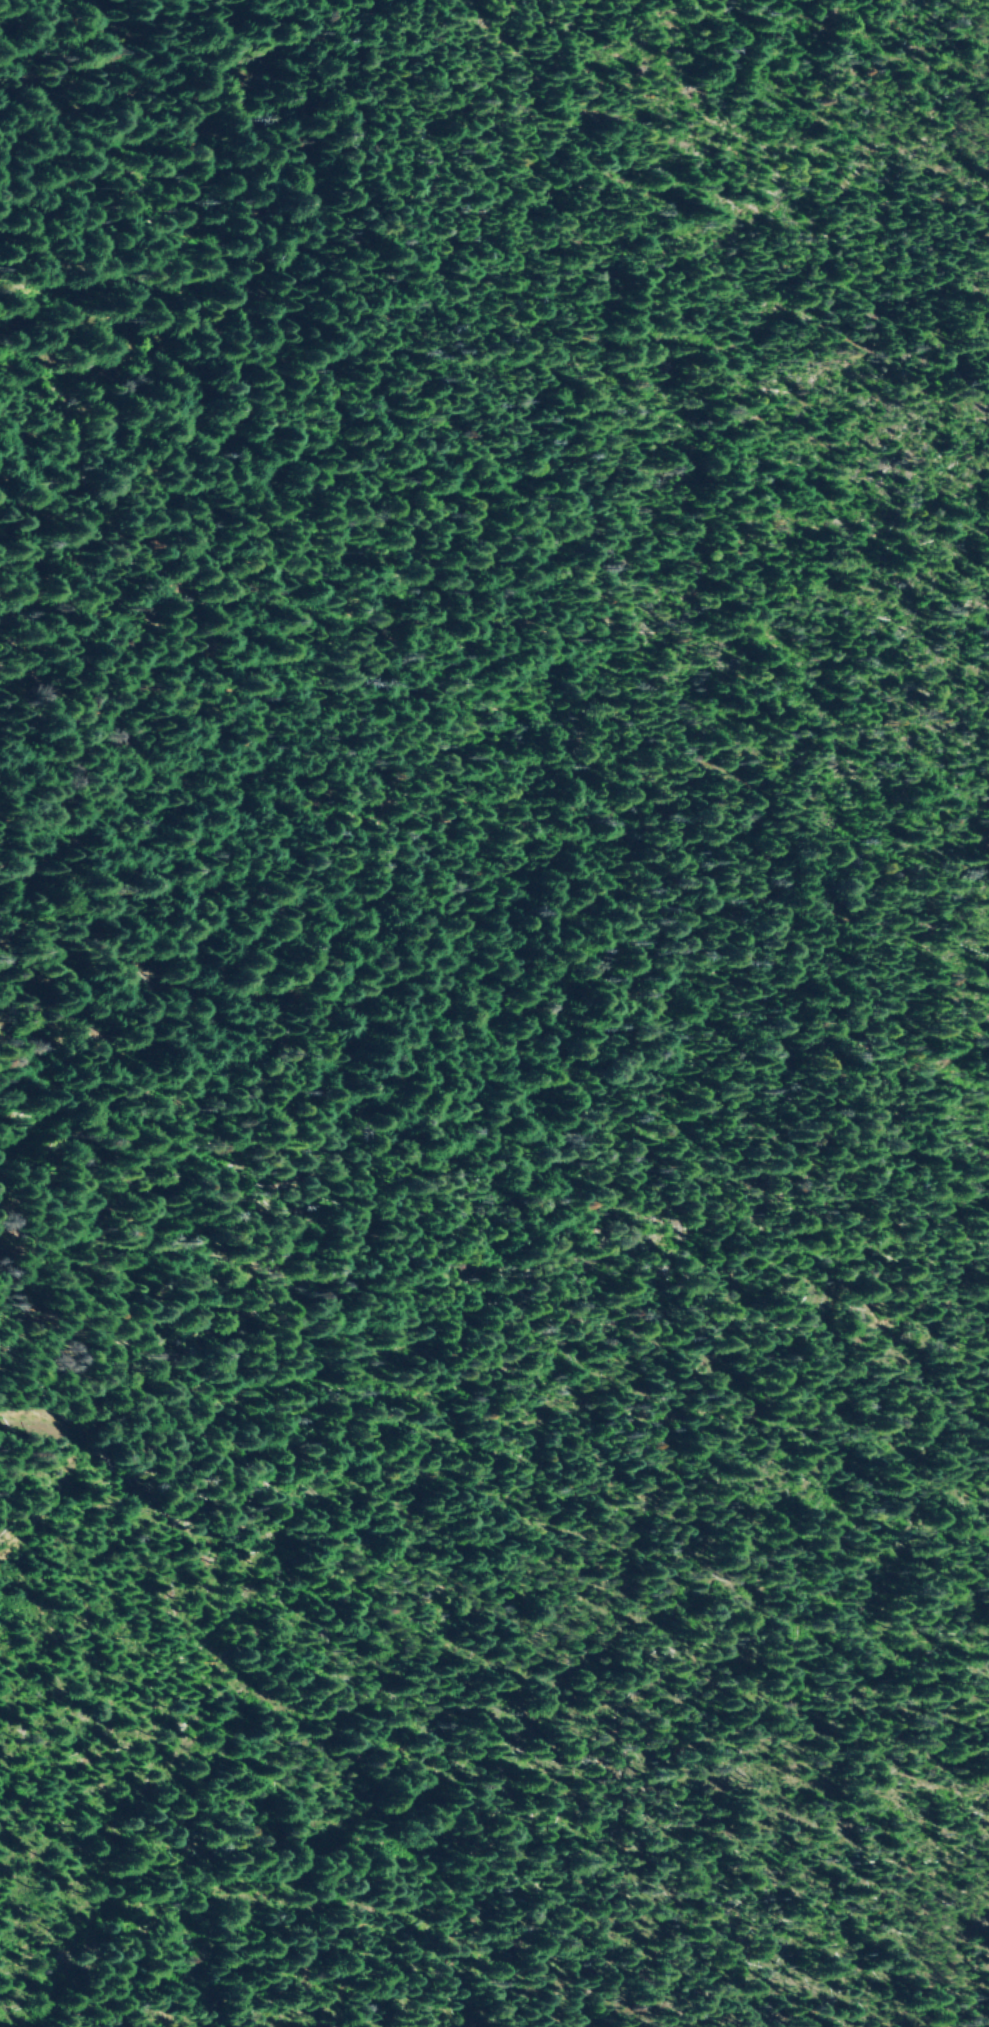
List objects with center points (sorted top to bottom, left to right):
road: (32, 1520)
road: (946, 1961)

